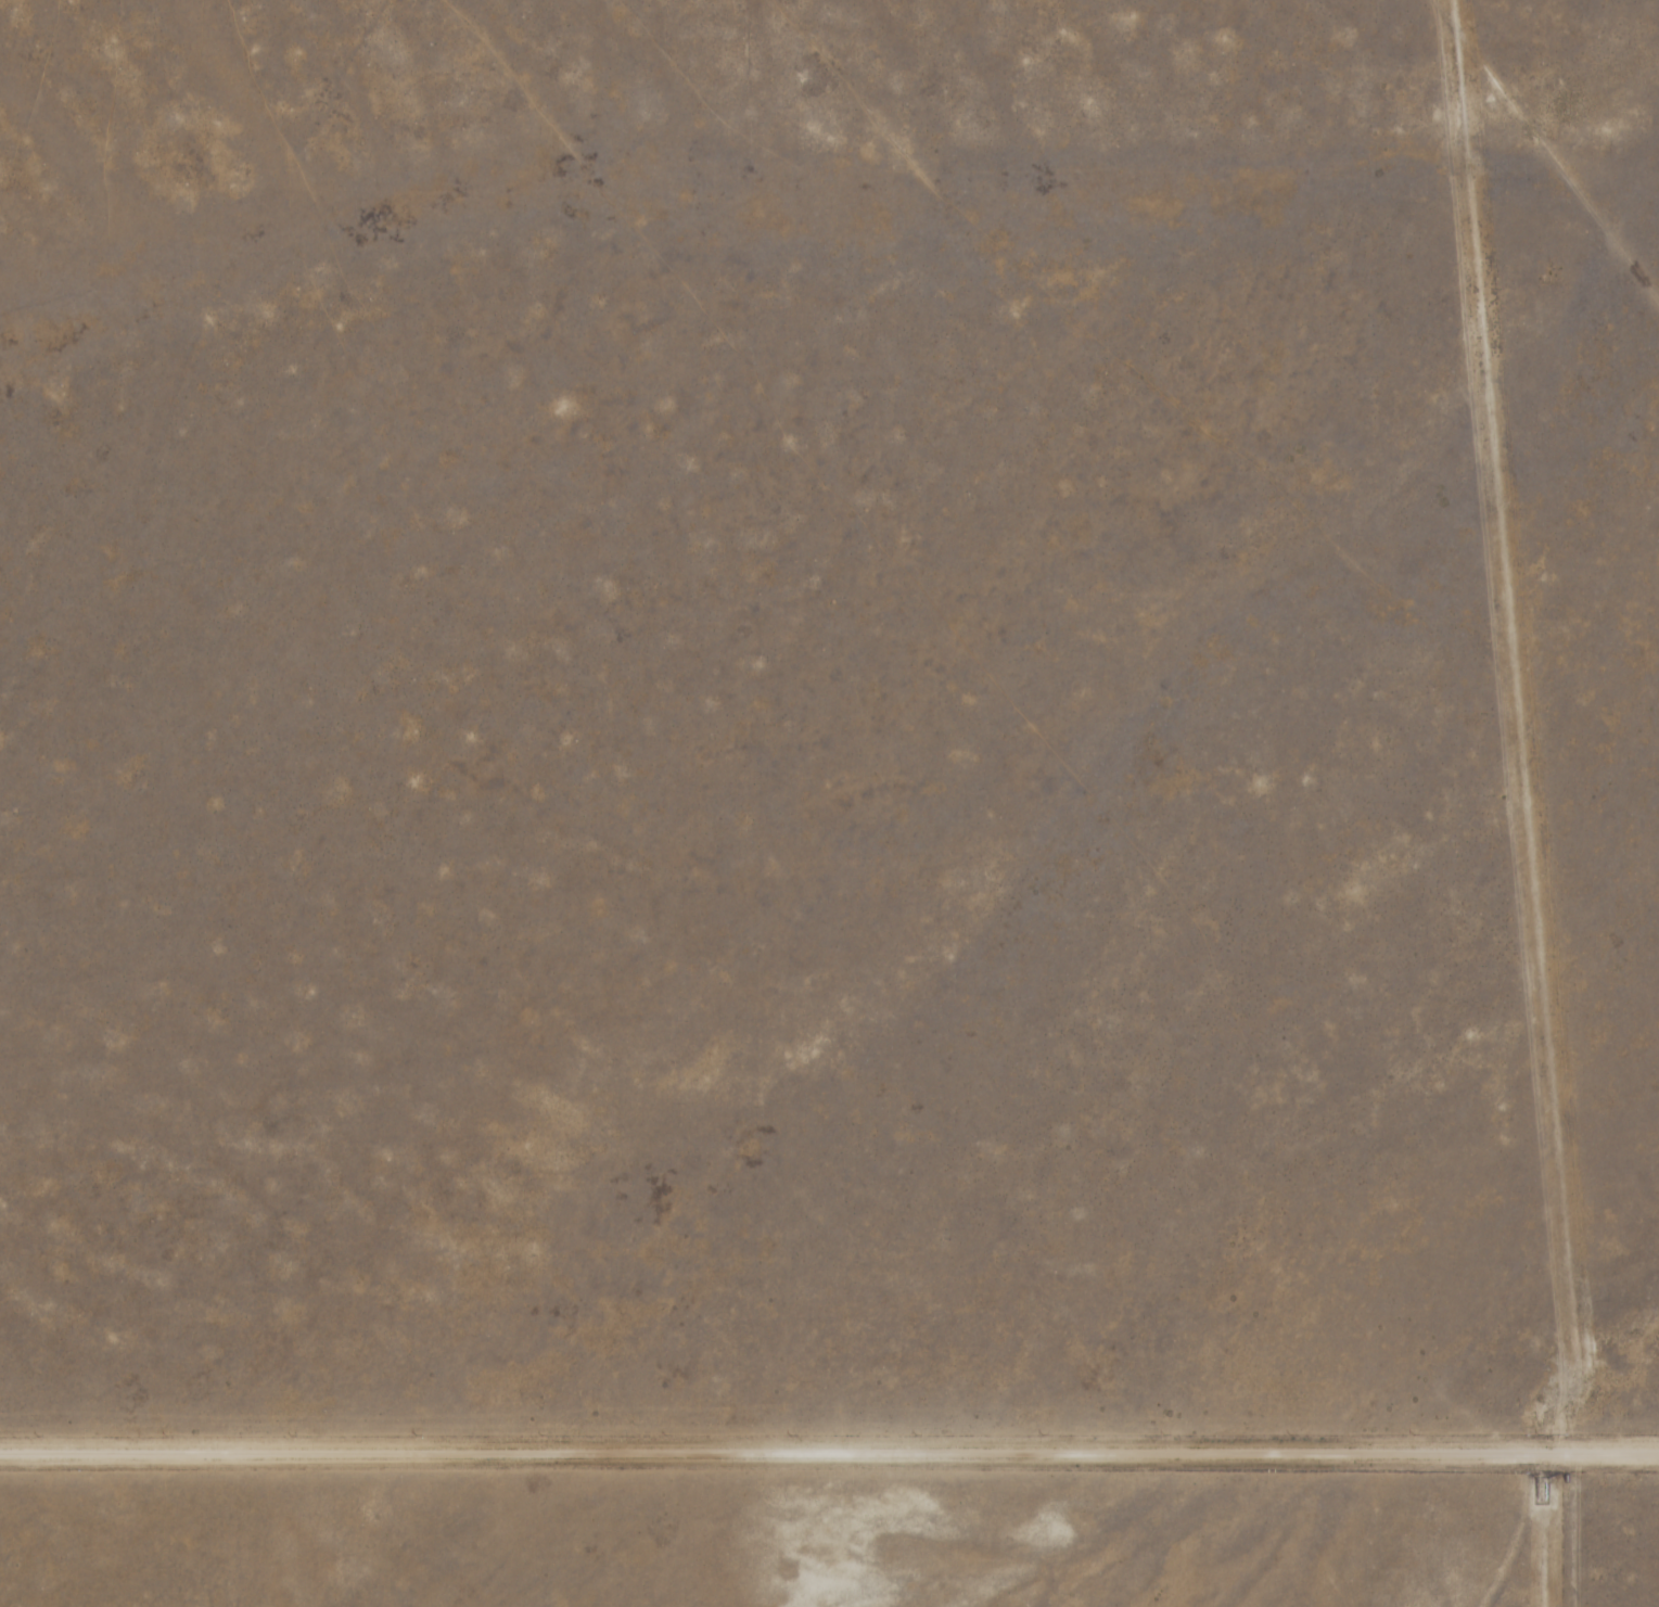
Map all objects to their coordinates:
road: (829, 1441)

